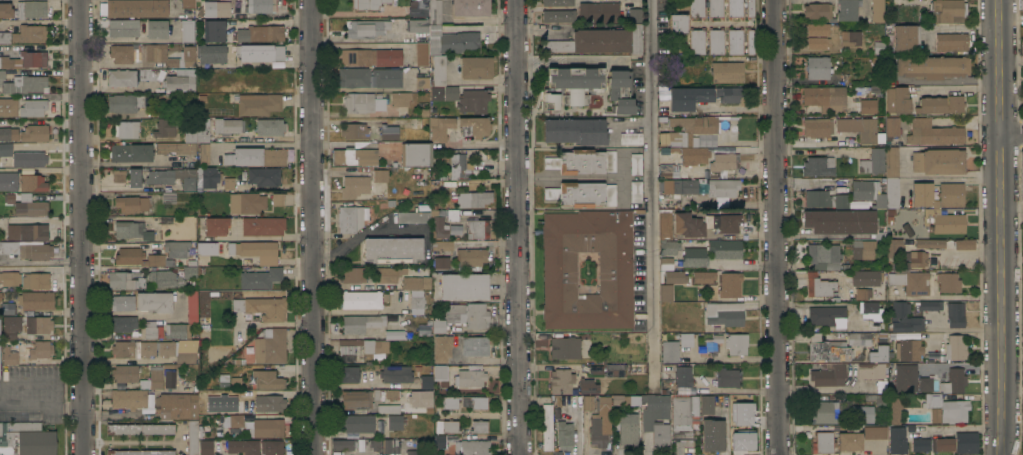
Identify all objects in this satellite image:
building: (188, 3)
building: (557, 3)
building: (368, 4)
building: (1021, 4)
building: (261, 6)
building: (470, 7)
building: (556, 7)
building: (137, 8)
building: (216, 8)
building: (418, 8)
building: (696, 8)
building: (715, 8)
building: (739, 8)
building: (30, 9)
building: (5, 10)
building: (846, 10)
building: (434, 11)
building: (600, 11)
building: (818, 11)
building: (877, 11)
building: (946, 11)
building: (636, 13)
building: (907, 14)
building: (559, 16)
building: (678, 23)
building: (417, 25)
building: (123, 27)
building: (156, 28)
building: (367, 28)
building: (816, 29)
building: (187, 30)
building: (214, 30)
building: (876, 31)
building: (261, 33)
building: (30, 34)
building: (5, 36)
building: (635, 38)
building: (905, 38)
building: (434, 39)
building: (850, 39)
building: (601, 40)
building: (696, 40)
building: (715, 40)
building: (735, 40)
building: (750, 40)
building: (459, 41)
building: (821, 43)
building: (951, 43)
building: (557, 45)
building: (877, 47)
building: (260, 52)
building: (138, 53)
building: (211, 53)
building: (421, 54)
building: (22, 57)
building: (181, 57)
building: (371, 57)
road: (297, 63)
road: (568, 63)
road: (247, 64)
road: (275, 64)
building: (476, 67)
building: (930, 67)
building: (817, 68)
building: (439, 70)
building: (726, 71)
building: (2, 75)
building: (147, 75)
building: (224, 76)
building: (265, 77)
building: (353, 77)
building: (387, 77)
building: (121, 78)
road: (949, 81)
building: (422, 82)
building: (575, 82)
building: (178, 83)
building: (25, 84)
building: (620, 91)
building: (437, 93)
building: (729, 93)
building: (687, 97)
building: (824, 97)
building: (400, 98)
building: (897, 100)
building: (473, 101)
building: (127, 102)
building: (362, 102)
building: (551, 102)
building: (258, 103)
building: (867, 105)
building: (939, 105)
building: (8, 107)
building: (33, 107)
building: (418, 119)
building: (228, 126)
building: (474, 126)
building: (270, 127)
building: (440, 127)
building: (817, 127)
building: (891, 127)
building: (164, 128)
building: (859, 128)
building: (127, 129)
building: (196, 129)
building: (354, 130)
building: (575, 130)
building: (694, 131)
building: (35, 132)
building: (388, 132)
building: (8, 133)
building: (933, 133)
road: (1012, 134)
building: (630, 138)
building: (880, 138)
building: (663, 139)
road: (257, 144)
building: (176, 147)
building: (5, 149)
building: (131, 152)
building: (204, 153)
building: (415, 153)
building: (694, 155)
building: (244, 156)
building: (275, 156)
building: (354, 156)
building: (29, 158)
building: (582, 161)
building: (724, 161)
building: (890, 161)
building: (937, 161)
building: (872, 162)
building: (636, 164)
building: (462, 166)
building: (818, 166)
building: (665, 170)
building: (119, 174)
building: (1021, 174)
building: (379, 175)
building: (208, 176)
building: (264, 176)
building: (134, 177)
building: (173, 177)
building: (9, 181)
building: (32, 182)
building: (354, 186)
building: (706, 186)
road: (273, 187)
building: (636, 191)
building: (583, 193)
road: (651, 193)
building: (868, 193)
building: (891, 193)
building: (921, 194)
building: (951, 195)
building: (169, 197)
building: (474, 198)
building: (278, 199)
building: (825, 200)
building: (669, 201)
building: (248, 202)
building: (132, 204)
building: (27, 205)
road: (1012, 207)
building: (452, 214)
building: (413, 217)
building: (350, 218)
building: (942, 221)
building: (841, 222)
building: (664, 223)
building: (704, 223)
building: (439, 224)
building: (216, 225)
building: (263, 225)
building: (1022, 225)
road: (82, 227)
road: (314, 227)
road: (518, 227)
road: (777, 227)
road: (1001, 227)
building: (26, 228)
building: (477, 228)
building: (455, 229)
building: (132, 230)
road: (256, 238)
building: (944, 243)
road: (121, 245)
building: (442, 245)
building: (668, 246)
building: (9, 247)
building: (893, 247)
building: (176, 248)
building: (207, 248)
building: (724, 248)
building: (393, 249)
building: (862, 249)
building: (255, 250)
building: (36, 251)
building: (823, 256)
building: (138, 257)
building: (471, 257)
building: (693, 257)
road: (1012, 259)
building: (914, 260)
road: (41, 262)
building: (441, 262)
building: (666, 263)
building: (355, 274)
building: (389, 276)
building: (704, 276)
building: (170, 277)
building: (616, 277)
building: (675, 277)
building: (260, 278)
building: (865, 278)
building: (10, 279)
building: (126, 279)
building: (417, 279)
building: (35, 280)
building: (910, 282)
building: (947, 282)
building: (729, 284)
building: (818, 285)
building: (464, 286)
building: (665, 292)
building: (860, 294)
building: (0, 296)
building: (361, 299)
building: (37, 300)
building: (154, 301)
building: (417, 301)
building: (122, 302)
road: (823, 304)
building: (929, 305)
building: (192, 306)
building: (263, 307)
building: (7, 308)
building: (725, 313)
building: (955, 314)
road: (142, 315)
building: (467, 315)
building: (826, 316)
building: (870, 317)
building: (905, 319)
building: (361, 323)
building: (122, 324)
building: (439, 325)
building: (37, 326)
building: (11, 327)
building: (152, 330)
building: (394, 334)
building: (685, 339)
building: (865, 339)
building: (711, 344)
building: (736, 344)
building: (475, 345)
building: (270, 346)
building: (565, 347)
building: (376, 348)
building: (442, 348)
building: (954, 349)
building: (908, 350)
building: (669, 351)
building: (829, 351)
building: (40, 352)
building: (881, 353)
building: (932, 355)
building: (9, 356)
road: (730, 358)
building: (167, 368)
building: (637, 368)
building: (595, 369)
building: (614, 369)
building: (870, 371)
building: (441, 372)
building: (125, 373)
building: (348, 374)
building: (680, 374)
building: (396, 375)
building: (827, 375)
building: (470, 377)
building: (727, 377)
building: (900, 378)
building: (267, 379)
building: (152, 380)
building: (956, 380)
building: (426, 381)
building: (561, 381)
building: (234, 382)
road: (33, 384)
building: (587, 386)
road: (1012, 392)
building: (375, 394)
building: (392, 394)
building: (129, 398)
building: (419, 398)
building: (356, 399)
building: (625, 399)
building: (450, 402)
building: (475, 402)
building: (588, 402)
building: (877, 402)
building: (269, 403)
building: (603, 403)
road: (41, 404)
building: (232, 408)
building: (388, 408)
building: (947, 408)
building: (894, 410)
building: (822, 412)
building: (741, 414)
building: (860, 414)
building: (683, 415)
building: (934, 415)
building: (655, 418)
building: (233, 420)
building: (396, 422)
building: (710, 423)
building: (357, 424)
building: (450, 426)
building: (479, 426)
building: (547, 426)
building: (141, 428)
building: (266, 428)
building: (627, 428)
road: (958, 429)
building: (597, 431)
building: (874, 432)
building: (563, 436)
building: (193, 437)
building: (25, 439)
building: (440, 440)
building: (849, 440)
building: (897, 440)
building: (740, 441)
building: (823, 442)
building: (965, 443)
building: (344, 444)
building: (920, 444)
building: (384, 445)
building: (941, 445)
building: (205, 447)
building: (243, 447)
building: (272, 447)
building: (474, 447)
building: (139, 452)
building: (412, 452)
park: (1022, 453)

